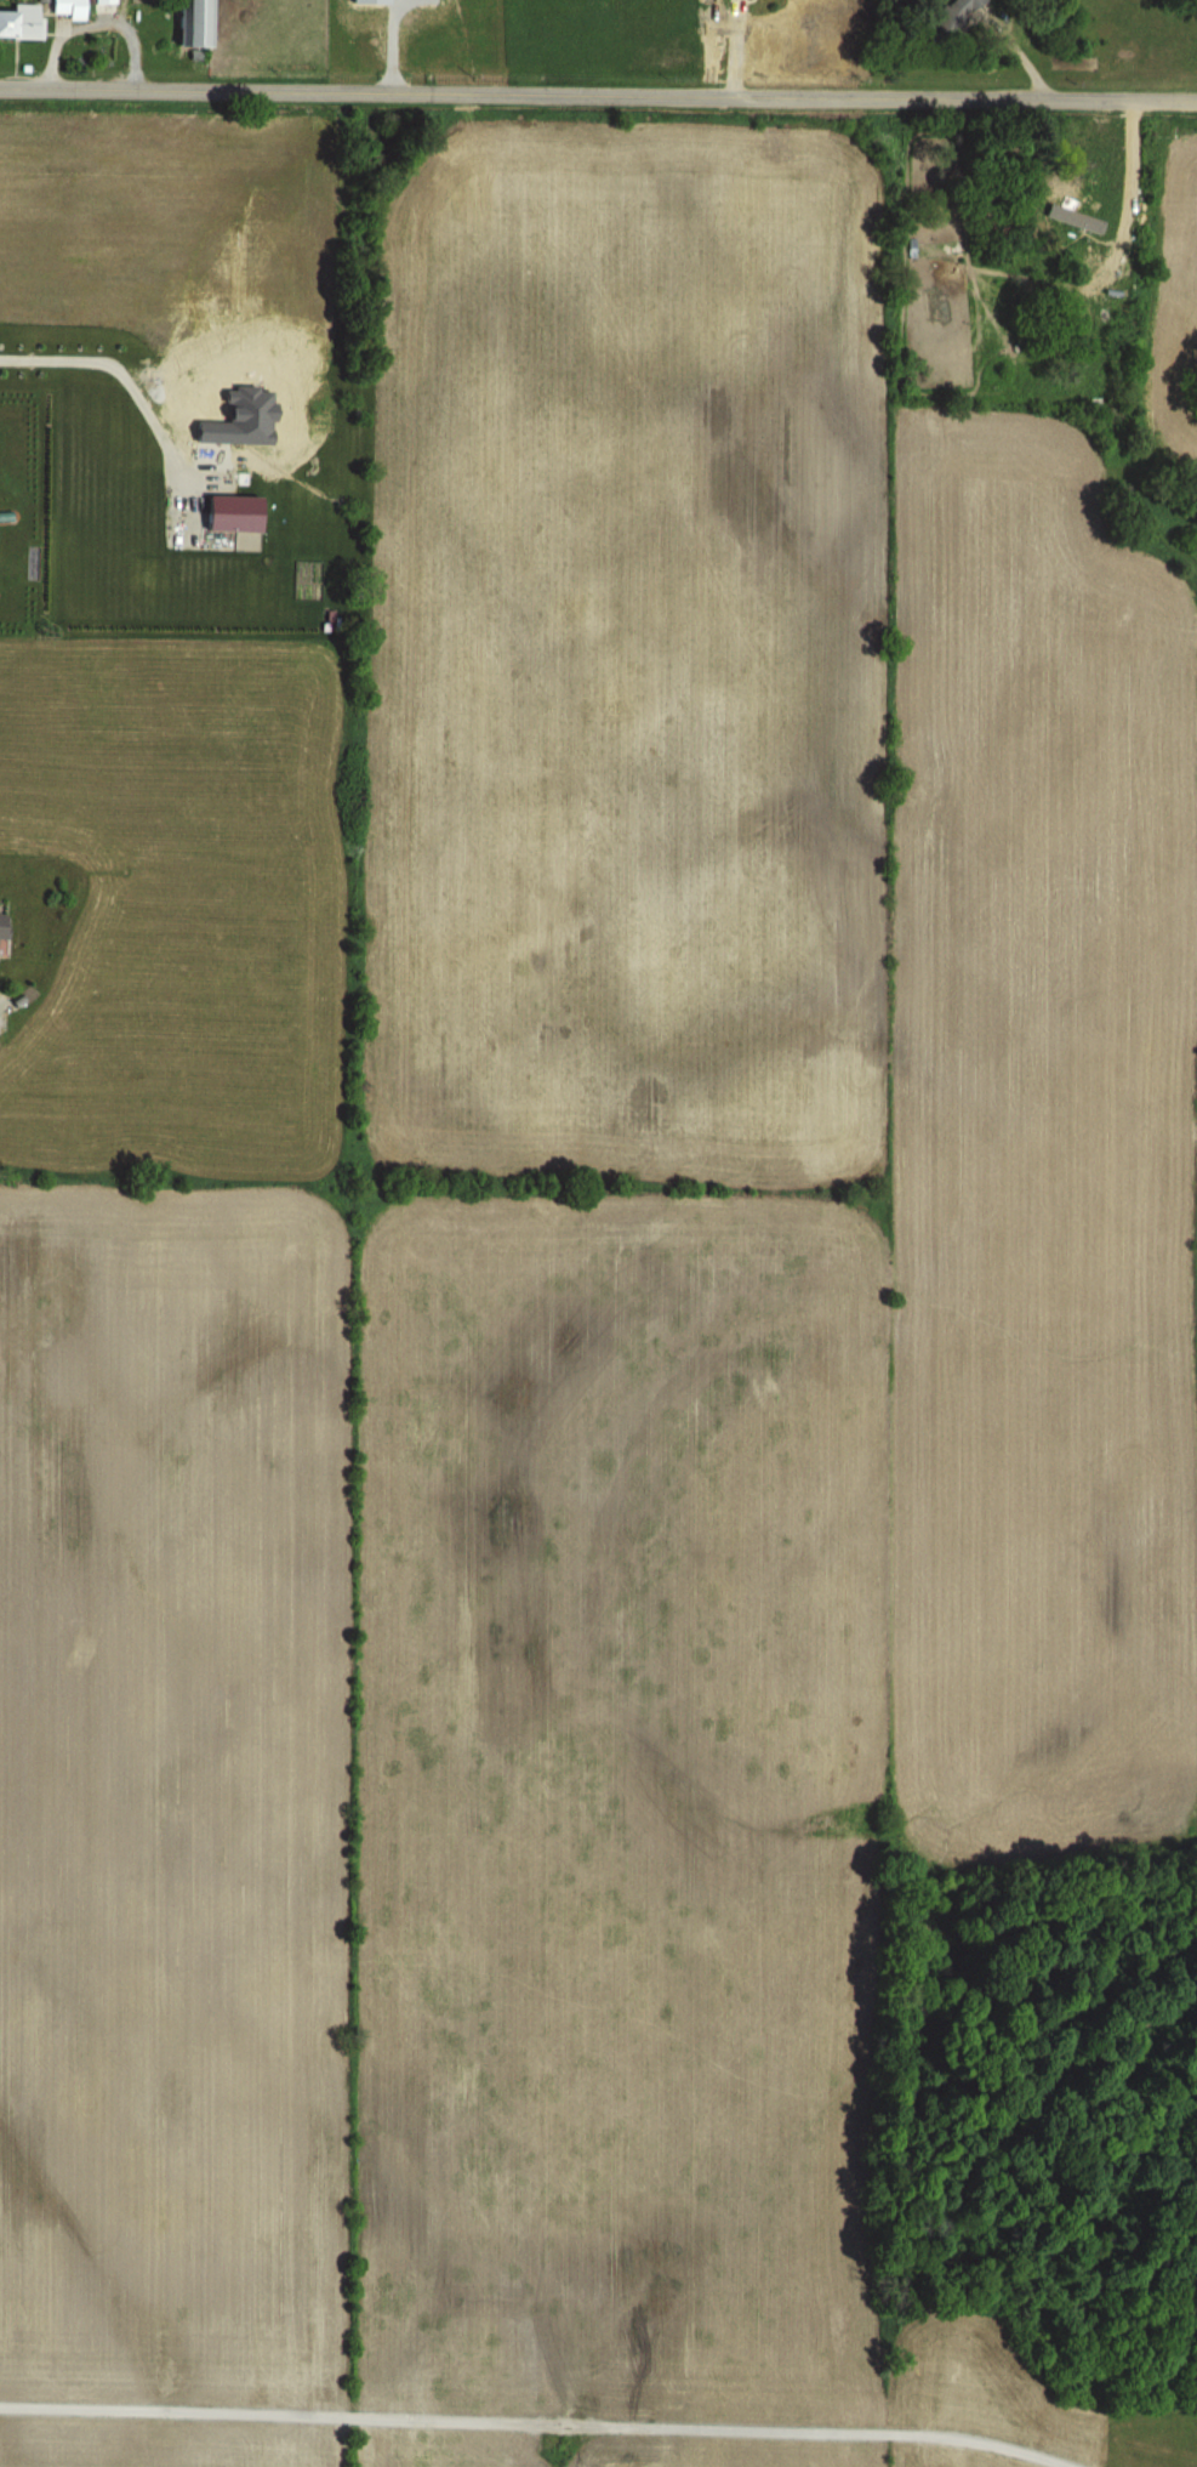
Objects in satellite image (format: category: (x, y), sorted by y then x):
building: (101, 1)
building: (65, 8)
building: (952, 15)
building: (18, 21)
building: (186, 23)
road: (598, 95)
road: (1129, 180)
building: (1071, 191)
road: (120, 375)
building: (1, 922)
road: (538, 2416)

